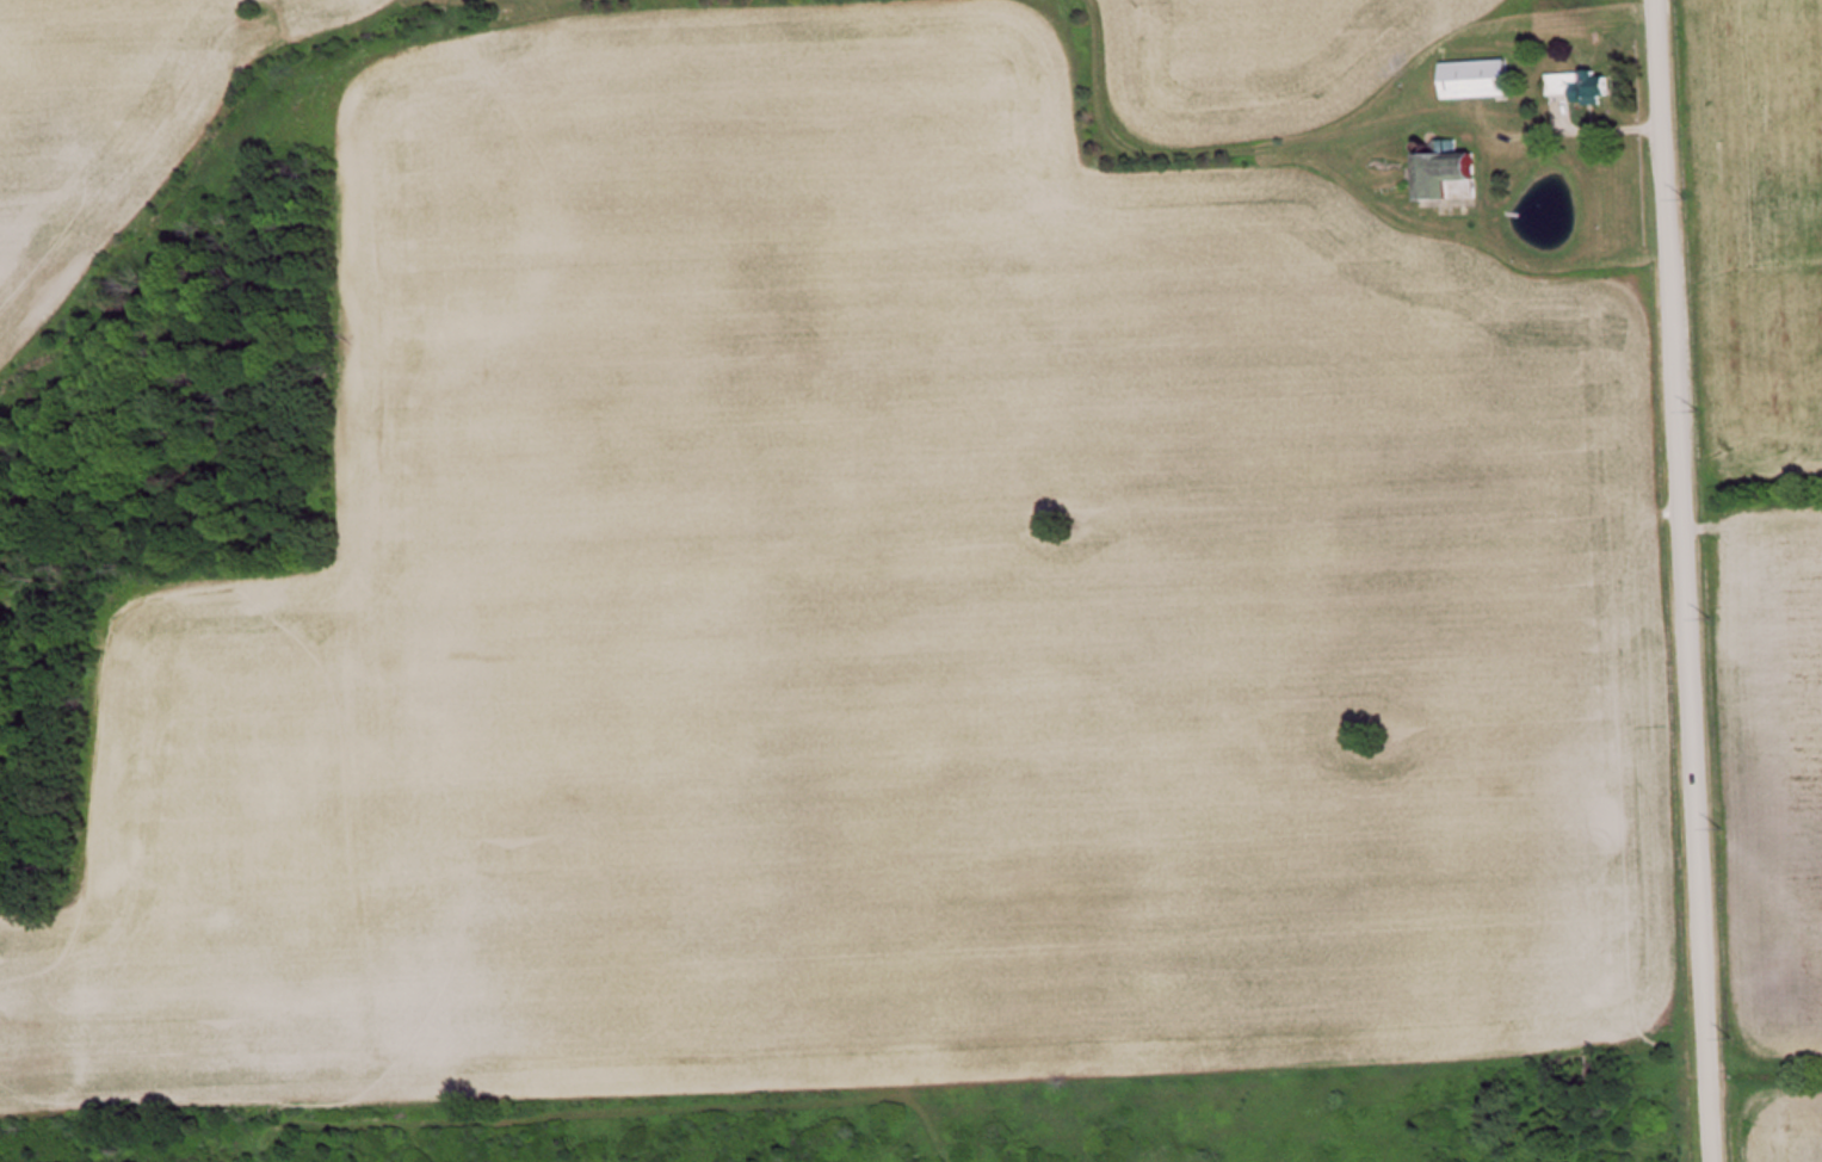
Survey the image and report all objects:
building: (1481, 78)
building: (1586, 86)
building: (1457, 173)
road: (1678, 581)

